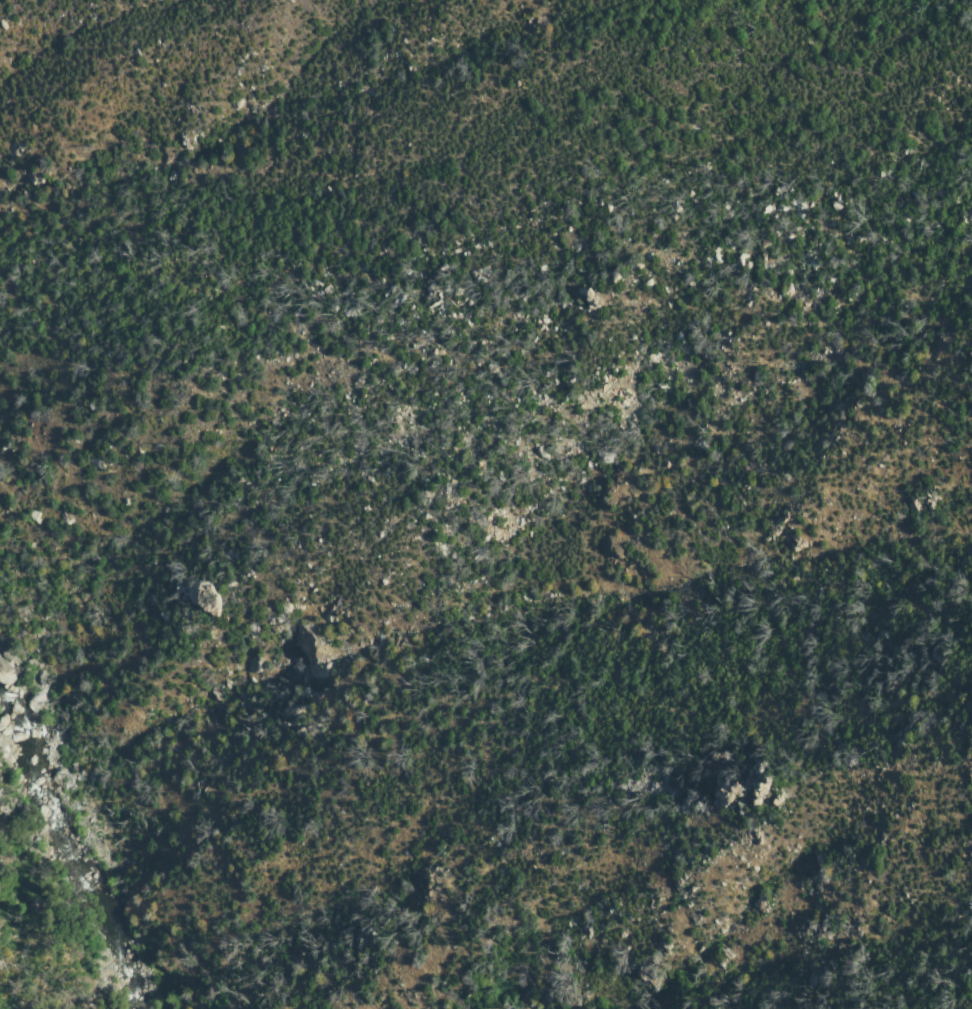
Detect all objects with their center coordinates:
river: (85, 838)

